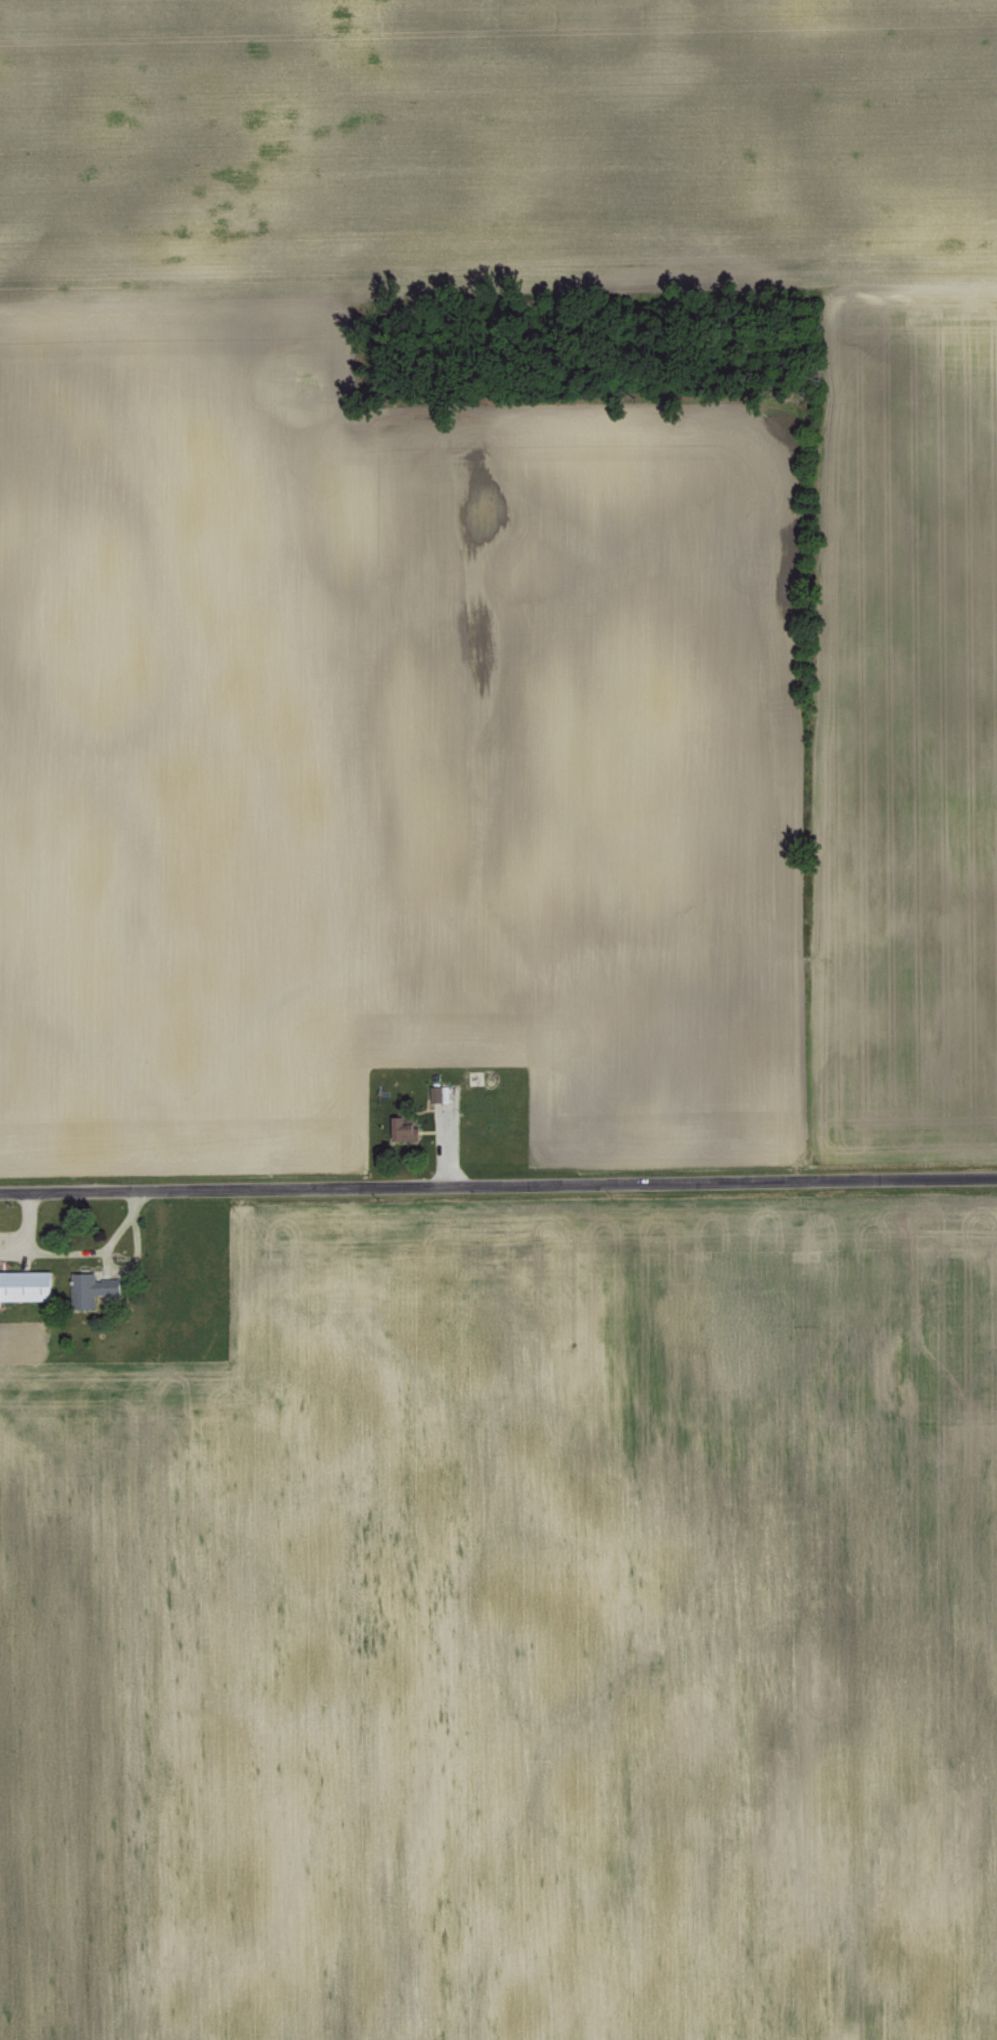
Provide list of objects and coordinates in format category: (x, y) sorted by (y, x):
building: (404, 1127)
road: (498, 1184)
road: (17, 1247)
road: (78, 1254)
road: (138, 1258)
building: (26, 1284)
building: (95, 1287)

